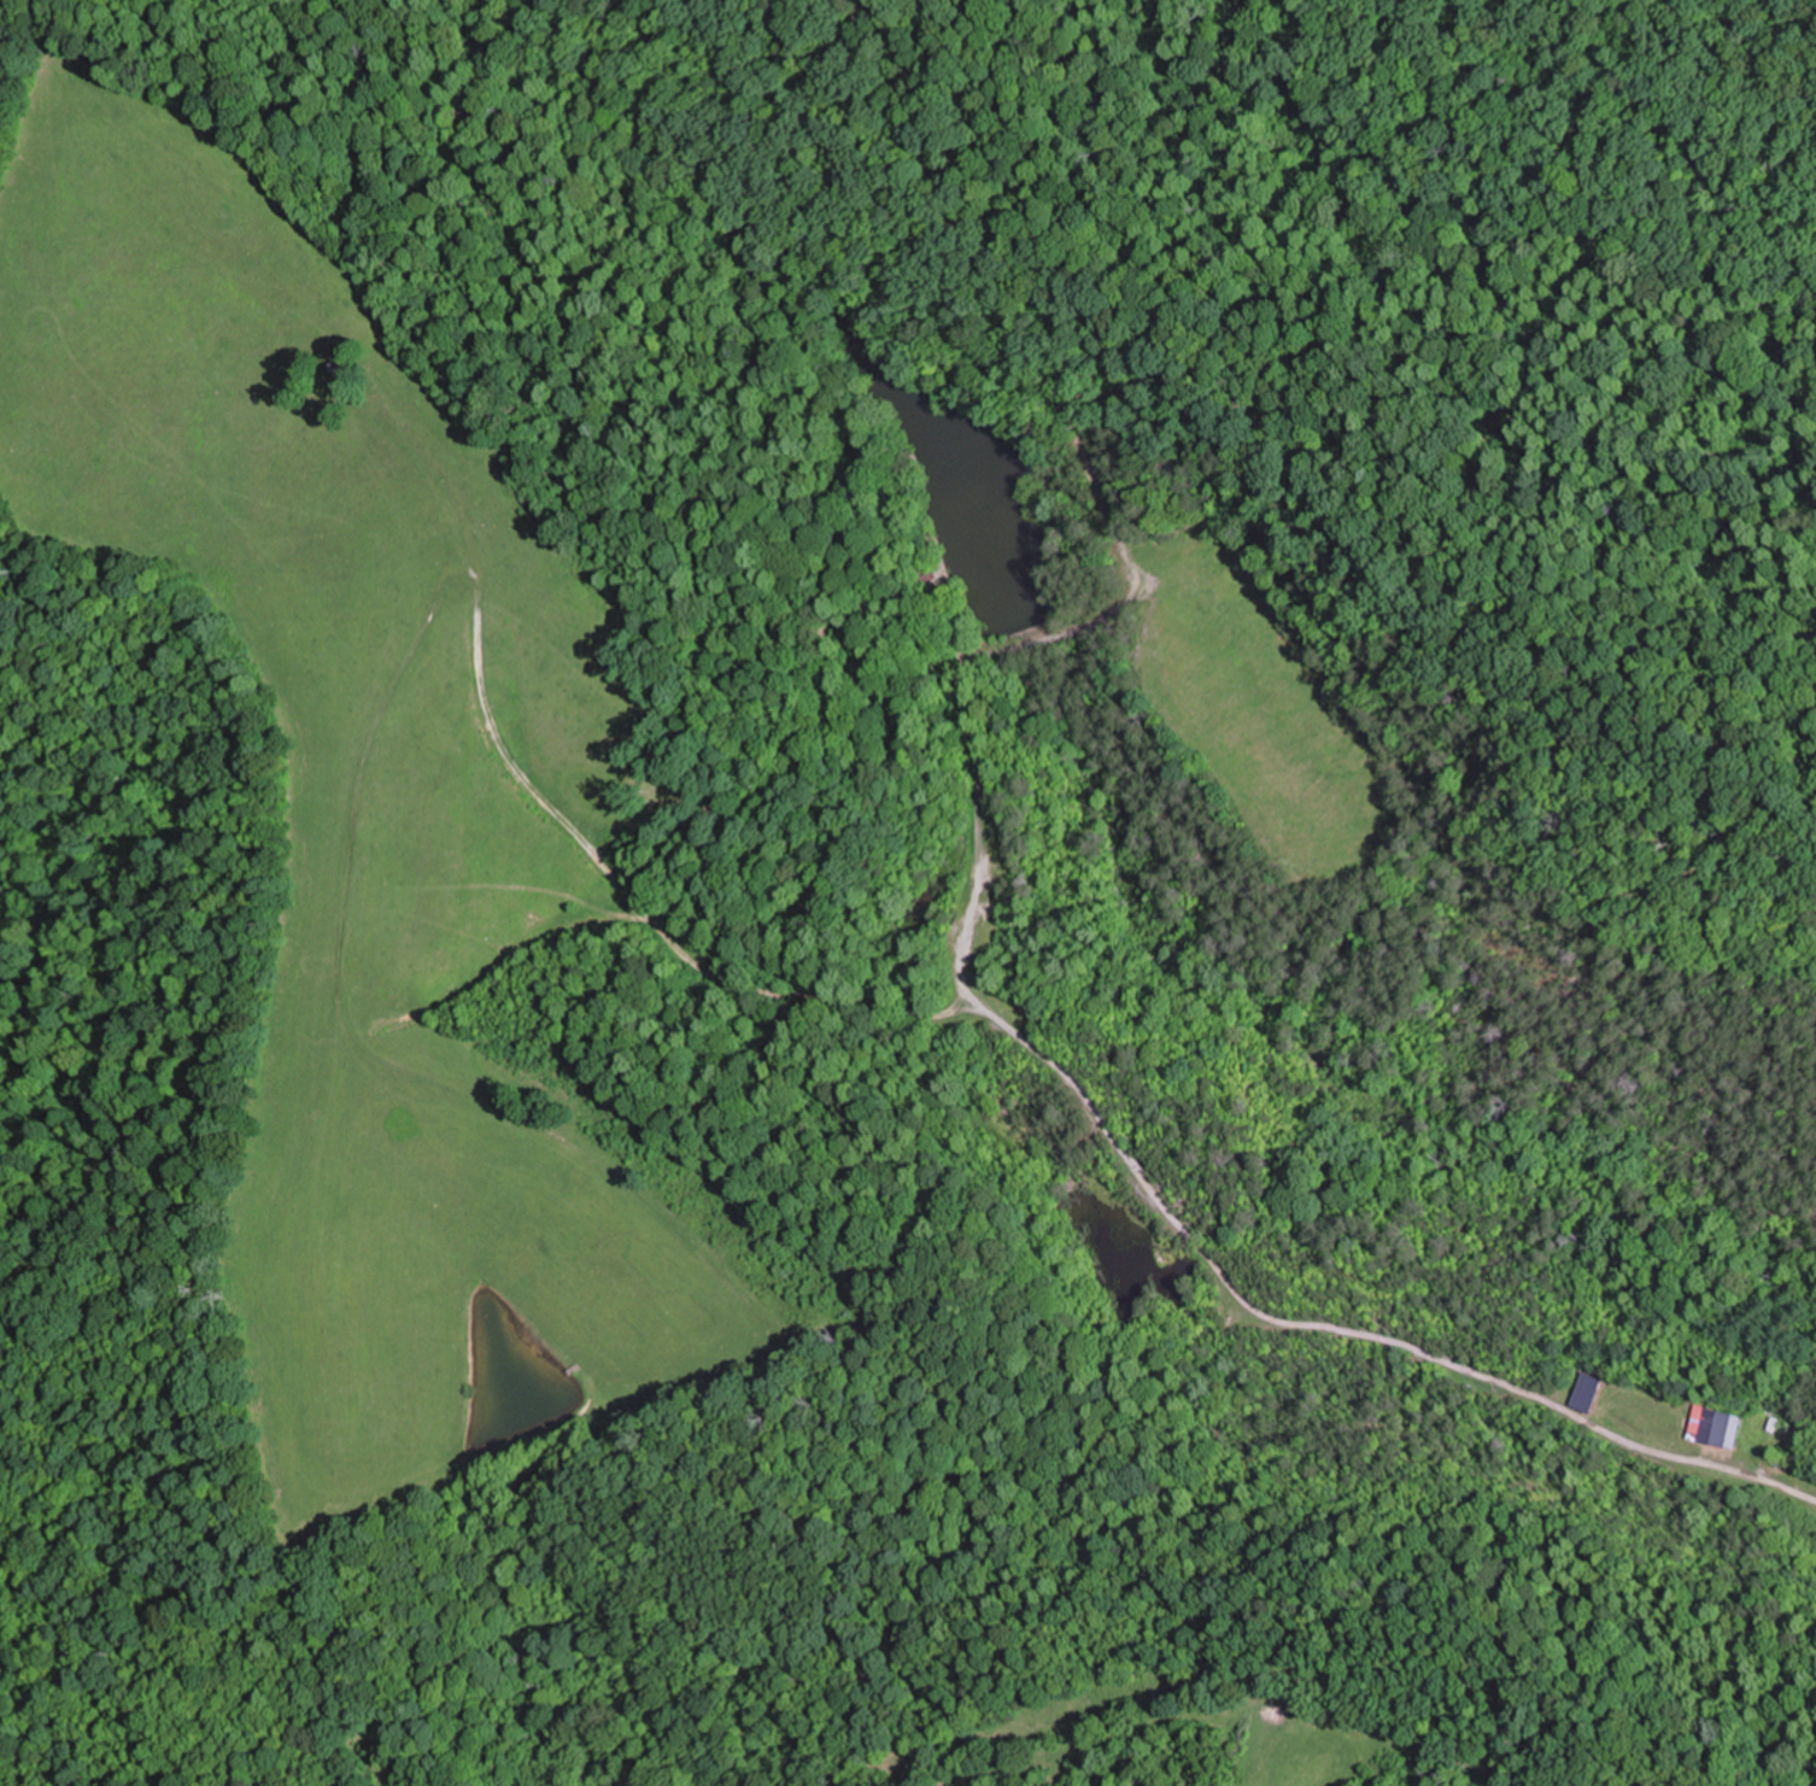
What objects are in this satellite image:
building: (1587, 1392)
building: (1715, 1427)

